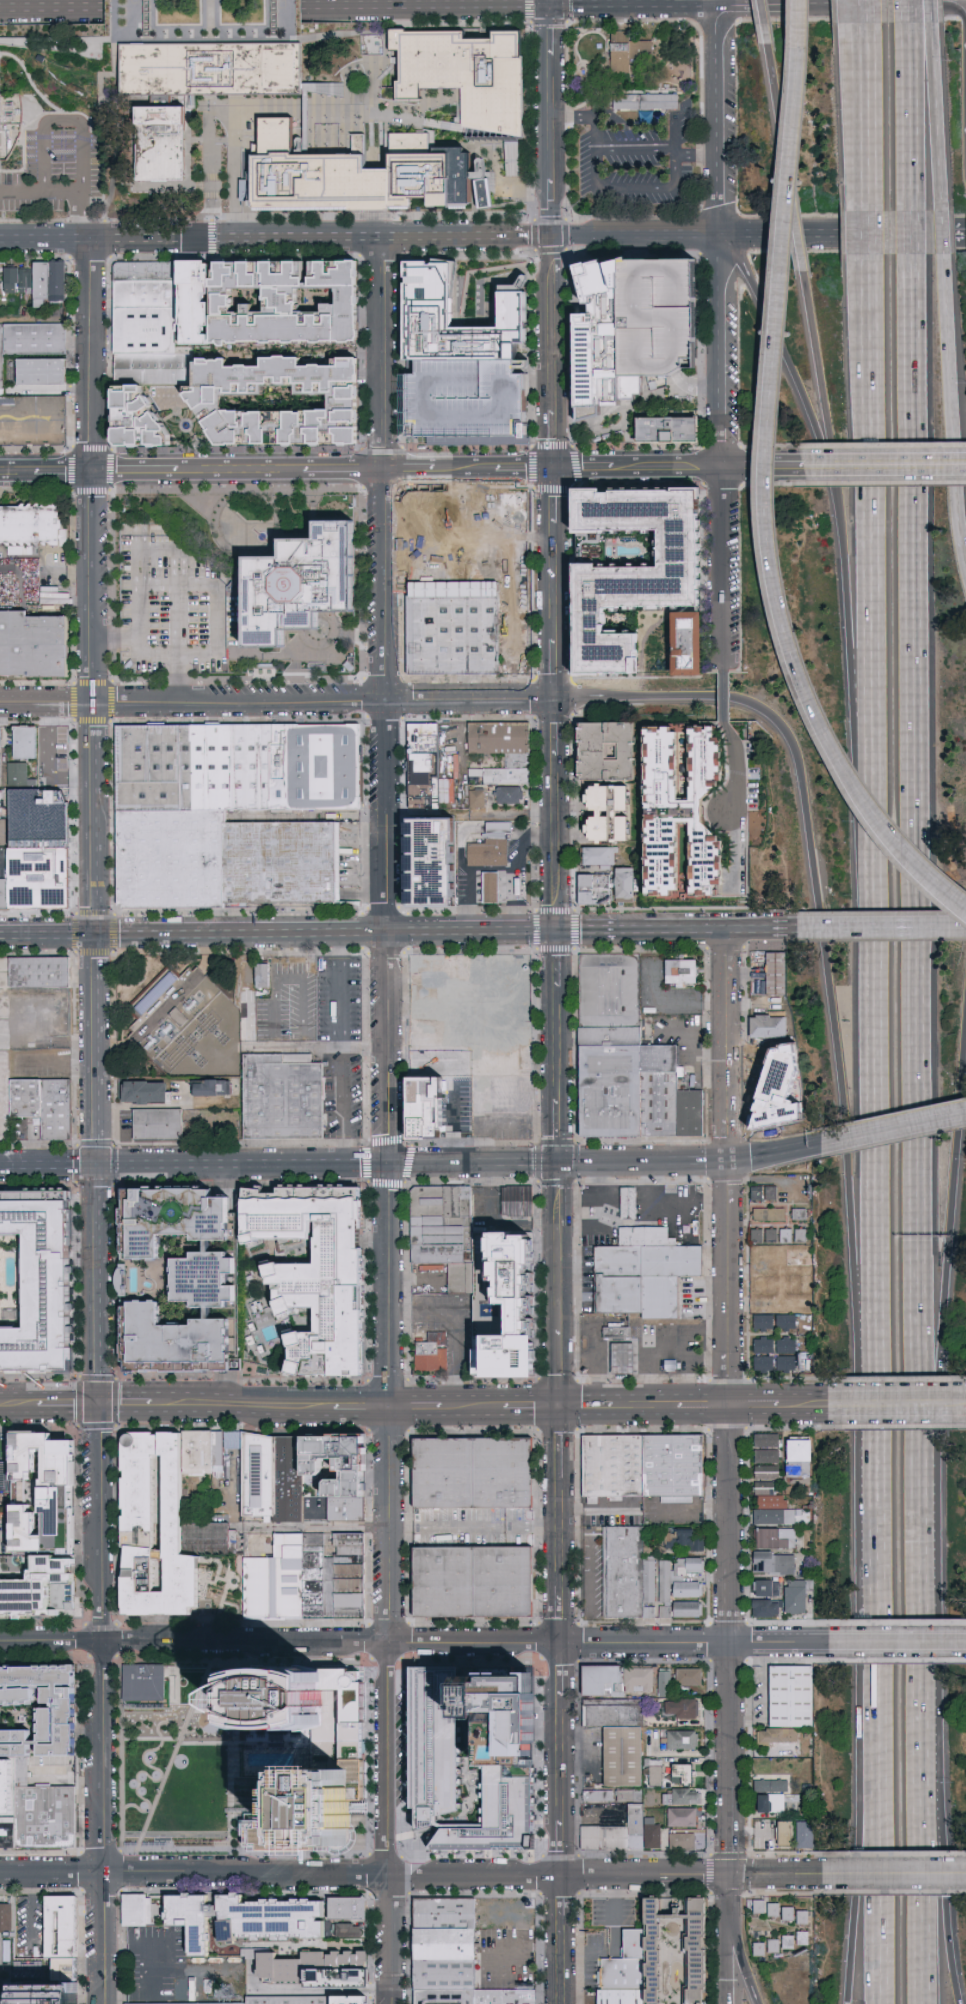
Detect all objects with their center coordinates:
road: (728, 1)
road: (549, 2)
road: (675, 2)
road: (884, 2)
road: (694, 3)
road: (761, 3)
road: (483, 4)
traffic signals: (549, 4)
road: (52, 6)
road: (910, 11)
road: (931, 11)
road: (850, 12)
road: (864, 12)
road: (114, 21)
park: (202, 21)
road: (52, 22)
road: (414, 22)
road: (548, 22)
road: (762, 22)
road: (216, 39)
road: (64, 49)
building: (629, 51)
building: (209, 70)
building: (475, 70)
road: (30, 81)
road: (100, 85)
road: (866, 86)
road: (859, 87)
building: (648, 102)
building: (6, 113)
road: (576, 116)
road: (777, 117)
road: (909, 118)
road: (936, 118)
road: (720, 119)
road: (554, 120)
road: (61, 121)
road: (29, 122)
road: (86, 126)
road: (674, 135)
road: (567, 138)
building: (159, 144)
road: (635, 152)
road: (698, 152)
building: (511, 156)
building: (371, 173)
road: (233, 176)
road: (867, 181)
road: (621, 188)
road: (20, 189)
road: (80, 196)
road: (264, 216)
road: (527, 217)
road: (796, 231)
road: (844, 235)
road: (909, 235)
road: (941, 235)
road: (638, 236)
road: (868, 236)
road: (468, 237)
traffic signals: (554, 237)
road: (192, 239)
road: (469, 255)
building: (145, 271)
building: (20, 279)
building: (54, 282)
building: (0, 284)
building: (145, 293)
building: (286, 300)
building: (198, 303)
building: (675, 307)
parking garage: (675, 307)
building: (428, 313)
parking garage: (428, 313)
building: (617, 328)
building: (146, 329)
building: (37, 339)
road: (529, 348)
building: (3, 351)
road: (568, 351)
road: (722, 352)
road: (554, 353)
road: (92, 355)
building: (155, 369)
building: (48, 371)
road: (790, 381)
building: (2, 387)
building: (280, 401)
building: (465, 403)
parking garage: (465, 403)
road: (946, 414)
building: (137, 421)
building: (669, 430)
building: (365, 436)
road: (885, 467)
road: (679, 469)
traffic signals: (555, 470)
road: (324, 471)
road: (46, 472)
traffic signals: (93, 472)
road: (764, 479)
building: (32, 528)
road: (166, 551)
building: (645, 570)
helipad: (291, 571)
road: (723, 571)
road: (830, 575)
building: (304, 582)
road: (94, 586)
parking lot: (168, 607)
road: (217, 624)
building: (449, 626)
building: (669, 640)
building: (686, 644)
building: (34, 650)
road: (723, 699)
traffic signals: (556, 700)
road: (277, 701)
building: (501, 739)
building: (30, 740)
building: (605, 752)
building: (1, 760)
building: (424, 760)
building: (501, 762)
building: (703, 762)
building: (658, 767)
road: (736, 769)
building: (256, 771)
building: (319, 771)
building: (180, 773)
building: (501, 777)
building: (508, 797)
building: (608, 798)
building: (5, 799)
building: (477, 799)
road: (418, 811)
building: (41, 813)
road: (910, 814)
road: (96, 818)
road: (386, 820)
road: (873, 820)
building: (609, 830)
building: (488, 854)
building: (599, 856)
building: (663, 857)
building: (421, 859)
building: (706, 861)
road: (1, 863)
building: (283, 863)
building: (174, 865)
road: (514, 871)
building: (40, 878)
road: (469, 886)
building: (624, 886)
building: (488, 887)
gas station: (488, 887)
building: (594, 890)
building: (6, 899)
road: (961, 904)
road: (961, 906)
road: (938, 929)
traffic signals: (557, 930)
road: (587, 930)
road: (671, 930)
road: (762, 930)
road: (855, 930)
road: (327, 932)
road: (48, 934)
traffic signals: (97, 934)
road: (811, 940)
building: (681, 972)
building: (772, 974)
building: (261, 975)
building: (44, 977)
building: (155, 992)
power substation: (155, 992)
road: (570, 1025)
building: (765, 1025)
power substation: (191, 1030)
road: (315, 1047)
road: (340, 1047)
road: (98, 1049)
parking lot: (6, 1052)
building: (464, 1061)
building: (630, 1061)
building: (218, 1085)
building: (784, 1088)
building: (151, 1090)
building: (285, 1101)
building: (30, 1103)
building: (434, 1109)
building: (59, 1113)
road: (893, 1127)
building: (160, 1128)
road: (773, 1154)
road: (642, 1162)
road: (328, 1163)
road: (49, 1165)
traffic signals: (99, 1165)
road: (726, 1167)
building: (761, 1191)
building: (627, 1202)
gas station: (627, 1202)
building: (519, 1204)
road: (940, 1205)
building: (443, 1225)
building: (794, 1233)
building: (765, 1234)
road: (558, 1237)
building: (649, 1239)
building: (621, 1264)
building: (675, 1264)
building: (312, 1273)
building: (137, 1275)
building: (462, 1279)
building: (180, 1280)
building: (40, 1284)
building: (622, 1298)
building: (509, 1300)
building: (663, 1300)
building: (217, 1310)
road: (454, 1327)
road: (703, 1329)
road: (582, 1330)
building: (617, 1333)
road: (643, 1343)
building: (434, 1354)
road: (578, 1358)
building: (626, 1360)
gas station: (626, 1360)
road: (707, 1360)
road: (650, 1373)
road: (116, 1379)
road: (19, 1401)
road: (804, 1402)
road: (898, 1402)
road: (586, 1403)
road: (645, 1403)
road: (683, 1403)
road: (708, 1403)
road: (753, 1403)
road: (361, 1404)
road: (415, 1404)
road: (449, 1404)
road: (480, 1404)
road: (531, 1404)
traffic signals: (559, 1404)
road: (69, 1405)
road: (242, 1405)
traffic signals: (101, 1406)
road: (126, 1406)
building: (761, 1439)
building: (203, 1454)
building: (762, 1455)
building: (788, 1458)
building: (339, 1463)
building: (676, 1468)
building: (235, 1469)
building: (616, 1469)
building: (761, 1471)
building: (259, 1477)
building: (476, 1477)
building: (290, 1482)
building: (758, 1487)
building: (45, 1494)
building: (766, 1501)
building: (346, 1508)
building: (770, 1515)
road: (101, 1518)
road: (911, 1519)
road: (873, 1525)
road: (474, 1527)
building: (155, 1529)
road: (314, 1530)
building: (6, 1534)
building: (212, 1538)
building: (2, 1562)
building: (769, 1562)
building: (642, 1578)
building: (309, 1581)
building: (476, 1588)
building: (40, 1590)
building: (776, 1597)
road: (729, 1639)
road: (414, 1642)
road: (898, 1642)
building: (40, 1675)
building: (683, 1676)
building: (660, 1682)
building: (144, 1683)
building: (21, 1697)
building: (0, 1698)
building: (795, 1700)
road: (387, 1704)
building: (673, 1707)
building: (62, 1722)
building: (772, 1735)
road: (143, 1738)
building: (678, 1739)
building: (621, 1742)
building: (19, 1744)
road: (209, 1744)
building: (486, 1753)
road: (153, 1756)
road: (176, 1757)
road: (236, 1758)
building: (307, 1758)
park: (187, 1769)
building: (23, 1773)
building: (674, 1773)
building: (32, 1777)
road: (72, 1781)
building: (766, 1785)
building: (9, 1787)
building: (681, 1796)
building: (767, 1802)
building: (677, 1816)
building: (47, 1818)
building: (638, 1829)
building: (800, 1833)
road: (853, 1835)
road: (871, 1835)
road: (917, 1835)
road: (935, 1835)
building: (8, 1836)
building: (678, 1839)
building: (618, 1844)
road: (52, 1872)
road: (416, 1873)
road: (895, 1874)
road: (776, 1875)
traffic signals: (729, 1876)
road: (728, 1902)
building: (757, 1906)
building: (346, 1909)
building: (598, 1909)
building: (772, 1910)
building: (137, 1911)
building: (631, 1911)
parking lot: (507, 1913)
building: (786, 1913)
road: (34, 1914)
building: (443, 1914)
building: (7, 1916)
building: (801, 1918)
building: (244, 1920)
parking lot: (30, 1923)
building: (65, 1928)
building: (345, 1931)
road: (104, 1937)
building: (801, 1938)
building: (782, 1941)
building: (444, 1944)
road: (147, 1946)
building: (761, 1947)
building: (675, 1950)
parking lot: (506, 1954)
parking lot: (156, 1964)
building: (308, 1964)
road: (726, 1966)
road: (741, 1966)
building: (624, 1967)
building: (444, 1975)
road: (323, 1990)
building: (46, 1993)
building: (507, 1994)
building: (444, 1996)
building: (359, 1997)
building: (620, 1997)
building: (290, 2000)

